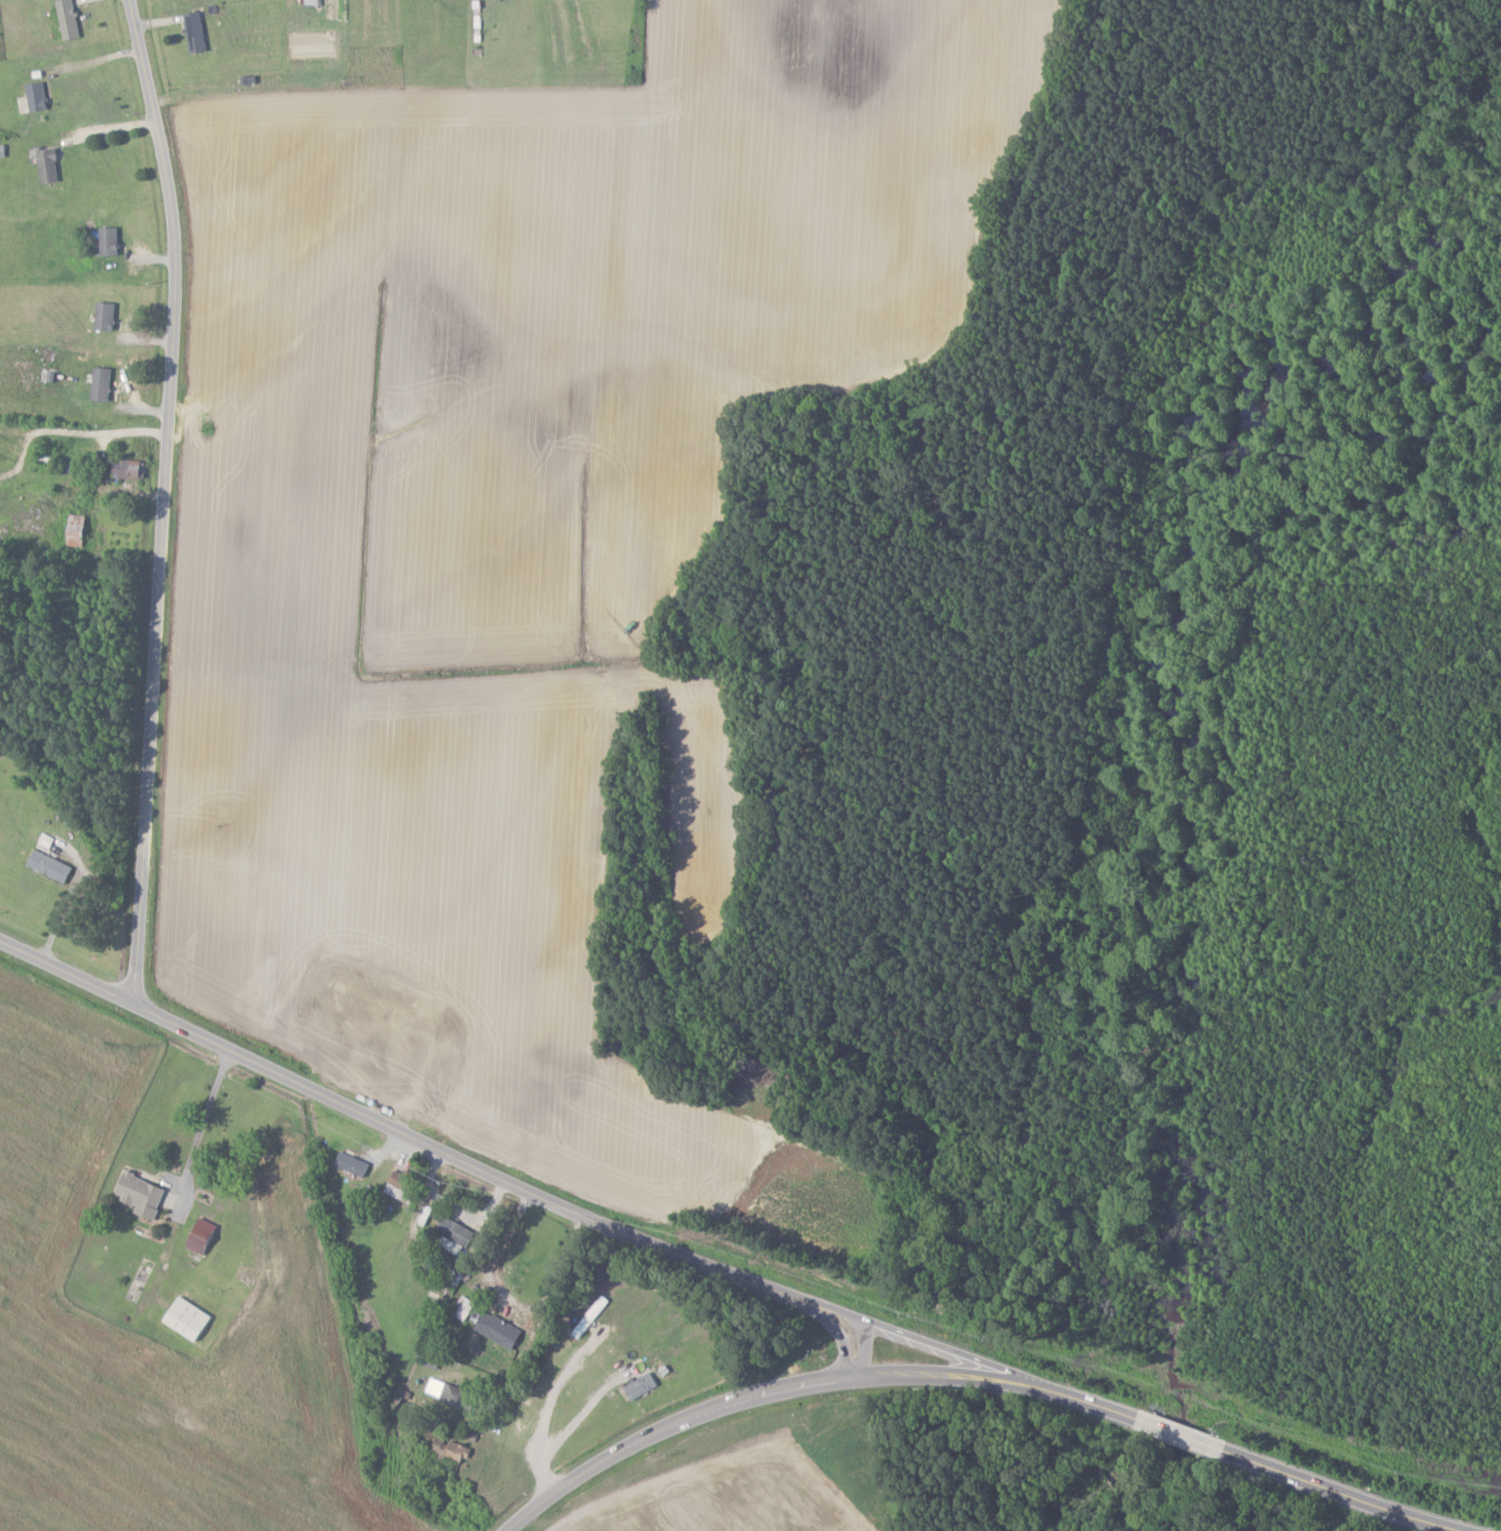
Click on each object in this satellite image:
building: (70, 19)
building: (197, 33)
road: (93, 60)
building: (38, 97)
building: (50, 165)
building: (112, 241)
building: (108, 317)
building: (104, 385)
road: (72, 431)
building: (131, 470)
road: (165, 497)
building: (77, 530)
building: (51, 865)
building: (429, 1003)
building: (378, 1051)
building: (393, 1069)
road: (204, 1114)
road: (444, 1152)
building: (353, 1164)
building: (399, 1190)
building: (144, 1194)
building: (457, 1231)
building: (204, 1236)
road: (511, 1303)
building: (464, 1308)
building: (191, 1319)
building: (500, 1330)
road: (936, 1347)
road: (813, 1381)
building: (642, 1386)
building: (452, 1394)
road: (544, 1418)
road: (572, 1423)
road: (1188, 1437)
building: (451, 1450)
road: (1344, 1493)

